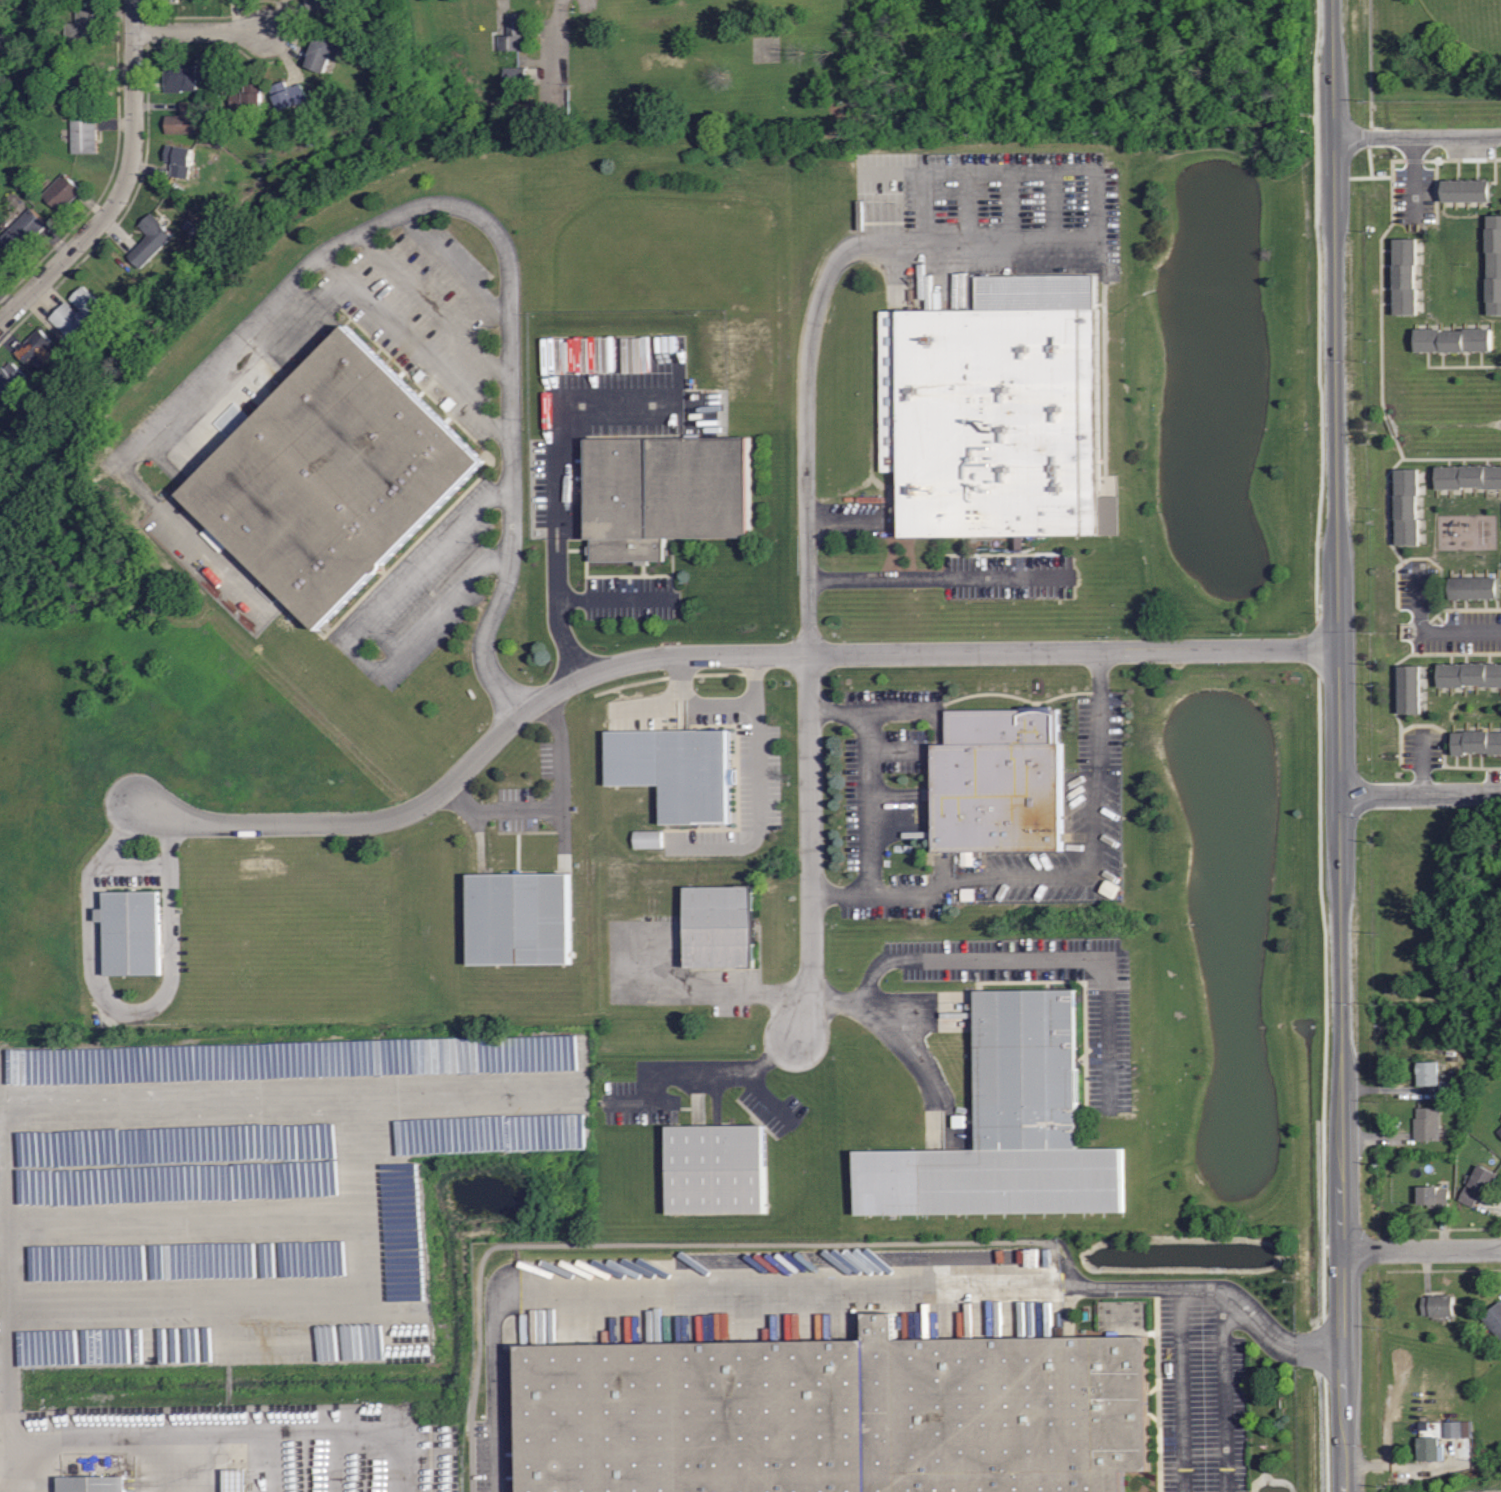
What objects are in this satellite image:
road: (588, 4)
building: (327, 7)
building: (83, 27)
road: (202, 32)
building: (514, 33)
building: (323, 52)
building: (512, 76)
building: (180, 77)
building: (81, 83)
building: (287, 94)
building: (247, 97)
building: (182, 119)
building: (83, 134)
road: (1417, 137)
building: (178, 160)
road: (1415, 181)
road: (122, 184)
building: (1467, 190)
building: (61, 191)
building: (23, 230)
road: (502, 239)
building: (149, 240)
road: (915, 244)
building: (1496, 262)
road: (455, 264)
building: (1408, 274)
road: (434, 307)
building: (76, 313)
road: (1335, 324)
building: (1456, 337)
road: (414, 347)
building: (38, 348)
building: (10, 378)
building: (995, 418)
building: (335, 475)
building: (1470, 475)
building: (668, 491)
building: (1407, 506)
road: (557, 516)
building: (216, 539)
road: (915, 580)
building: (1474, 587)
road: (617, 599)
road: (1433, 633)
road: (347, 645)
road: (1074, 652)
building: (1471, 672)
building: (1410, 689)
road: (724, 702)
road: (871, 712)
building: (1477, 742)
road: (475, 757)
road: (1421, 763)
building: (679, 768)
building: (1001, 780)
road: (1420, 793)
road: (554, 810)
road: (762, 814)
road: (868, 831)
building: (650, 840)
road: (810, 847)
road: (133, 865)
road: (1091, 875)
building: (523, 917)
building: (723, 925)
building: (133, 933)
road: (1018, 959)
road: (718, 990)
road: (119, 1005)
road: (907, 1047)
road: (1343, 1070)
road: (729, 1072)
building: (1428, 1073)
building: (1451, 1089)
road: (267, 1092)
building: (1427, 1123)
building: (1011, 1126)
building: (1499, 1131)
building: (720, 1168)
building: (1482, 1179)
building: (1433, 1196)
building: (1471, 1197)
road: (1423, 1249)
road: (836, 1288)
building: (1438, 1305)
building: (1493, 1319)
road: (1183, 1391)
road: (1225, 1396)
building: (830, 1414)
building: (1459, 1429)
road: (112, 1447)
building: (1430, 1449)
building: (95, 1485)
road: (0, 1488)

